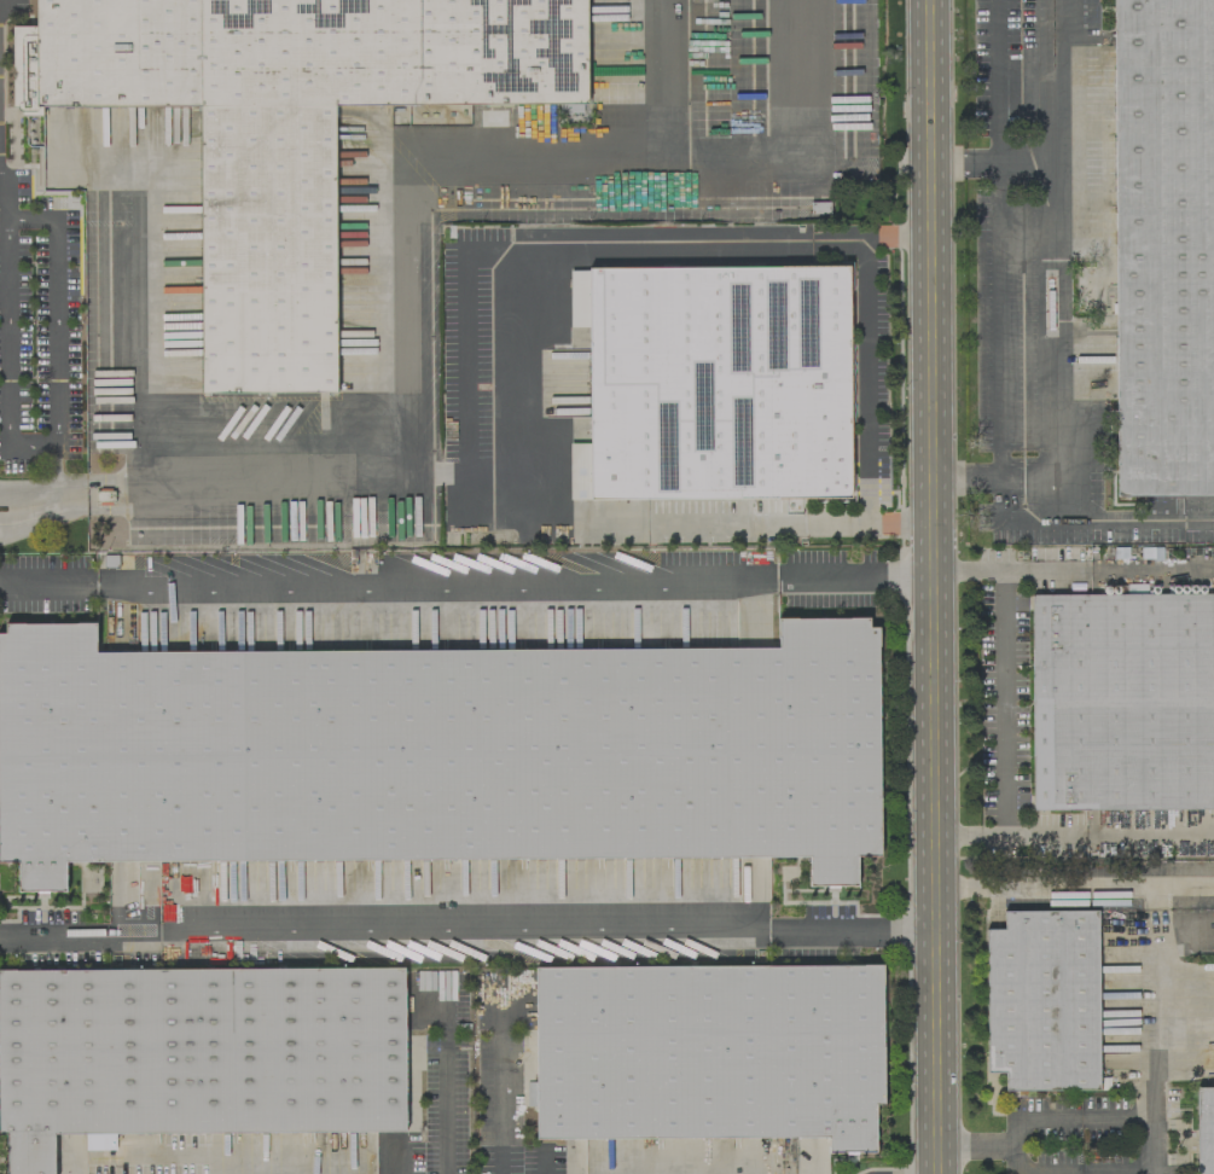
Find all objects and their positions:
building: (286, 129)
road: (738, 155)
road: (965, 167)
road: (5, 205)
road: (13, 223)
road: (898, 239)
building: (1163, 246)
road: (1062, 260)
road: (1001, 274)
road: (864, 380)
building: (716, 382)
road: (490, 389)
building: (577, 471)
road: (272, 481)
road: (51, 495)
road: (1092, 521)
road: (899, 522)
road: (1011, 571)
road: (1151, 571)
road: (855, 574)
road: (437, 579)
road: (48, 583)
road: (934, 586)
road: (1000, 702)
building: (1122, 702)
building: (438, 754)
road: (1150, 833)
road: (1010, 835)
road: (1049, 885)
road: (853, 928)
road: (464, 930)
road: (80, 931)
building: (1042, 1000)
road: (1158, 1004)
building: (709, 1053)
building: (196, 1054)
road: (447, 1089)
building: (529, 1094)
road: (501, 1102)
road: (1035, 1116)
building: (1204, 1131)
road: (1078, 1170)

